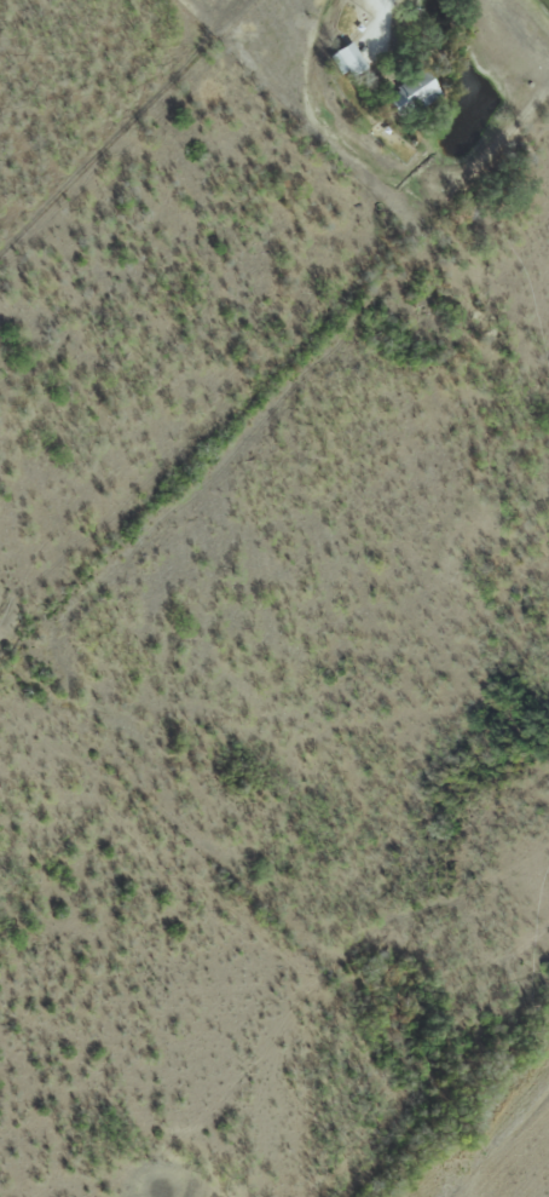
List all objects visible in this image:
road: (388, 1)
building: (345, 59)
building: (410, 94)

